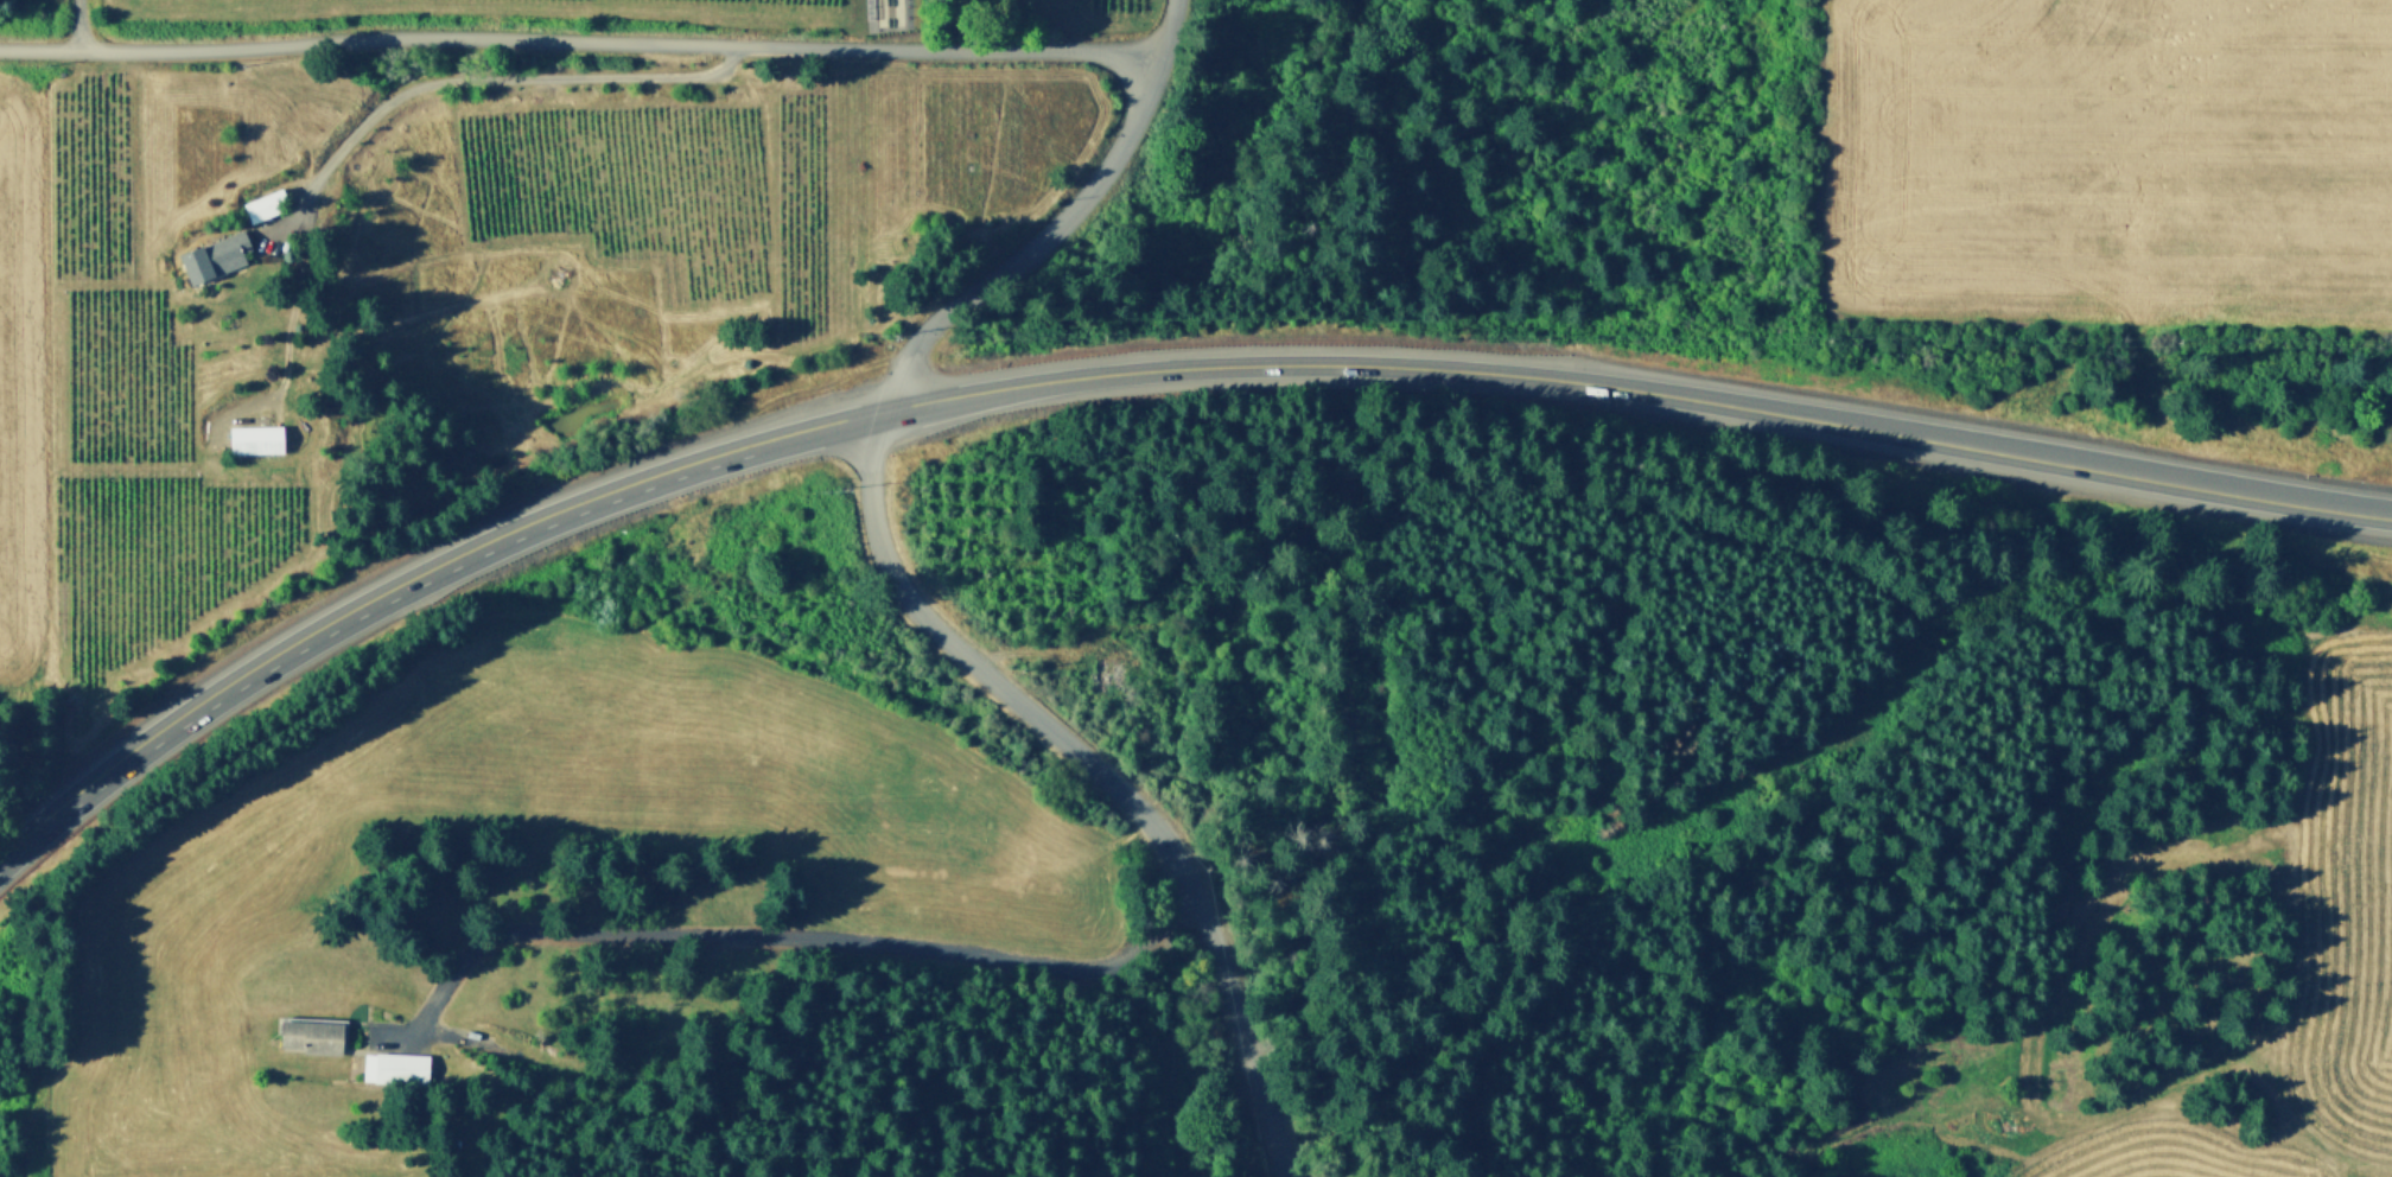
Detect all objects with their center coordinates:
crop: (802, 2)
road: (83, 24)
road: (947, 24)
road: (583, 40)
road: (376, 116)
crop: (2098, 161)
crop: (864, 172)
crop: (94, 173)
crop: (613, 185)
building: (269, 205)
road: (1065, 218)
road: (284, 224)
building: (225, 253)
crop: (113, 371)
crop: (12, 383)
road: (1634, 393)
building: (260, 439)
crop: (148, 553)
road: (407, 580)
building: (1113, 666)
road: (1102, 770)
crop: (2323, 899)
crop: (953, 904)
road: (750, 936)
building: (459, 1026)
building: (312, 1030)
road: (1166, 1030)
building: (458, 1036)
building: (485, 1039)
building: (434, 1062)
building: (397, 1064)
building: (453, 1140)
road: (2027, 1159)

